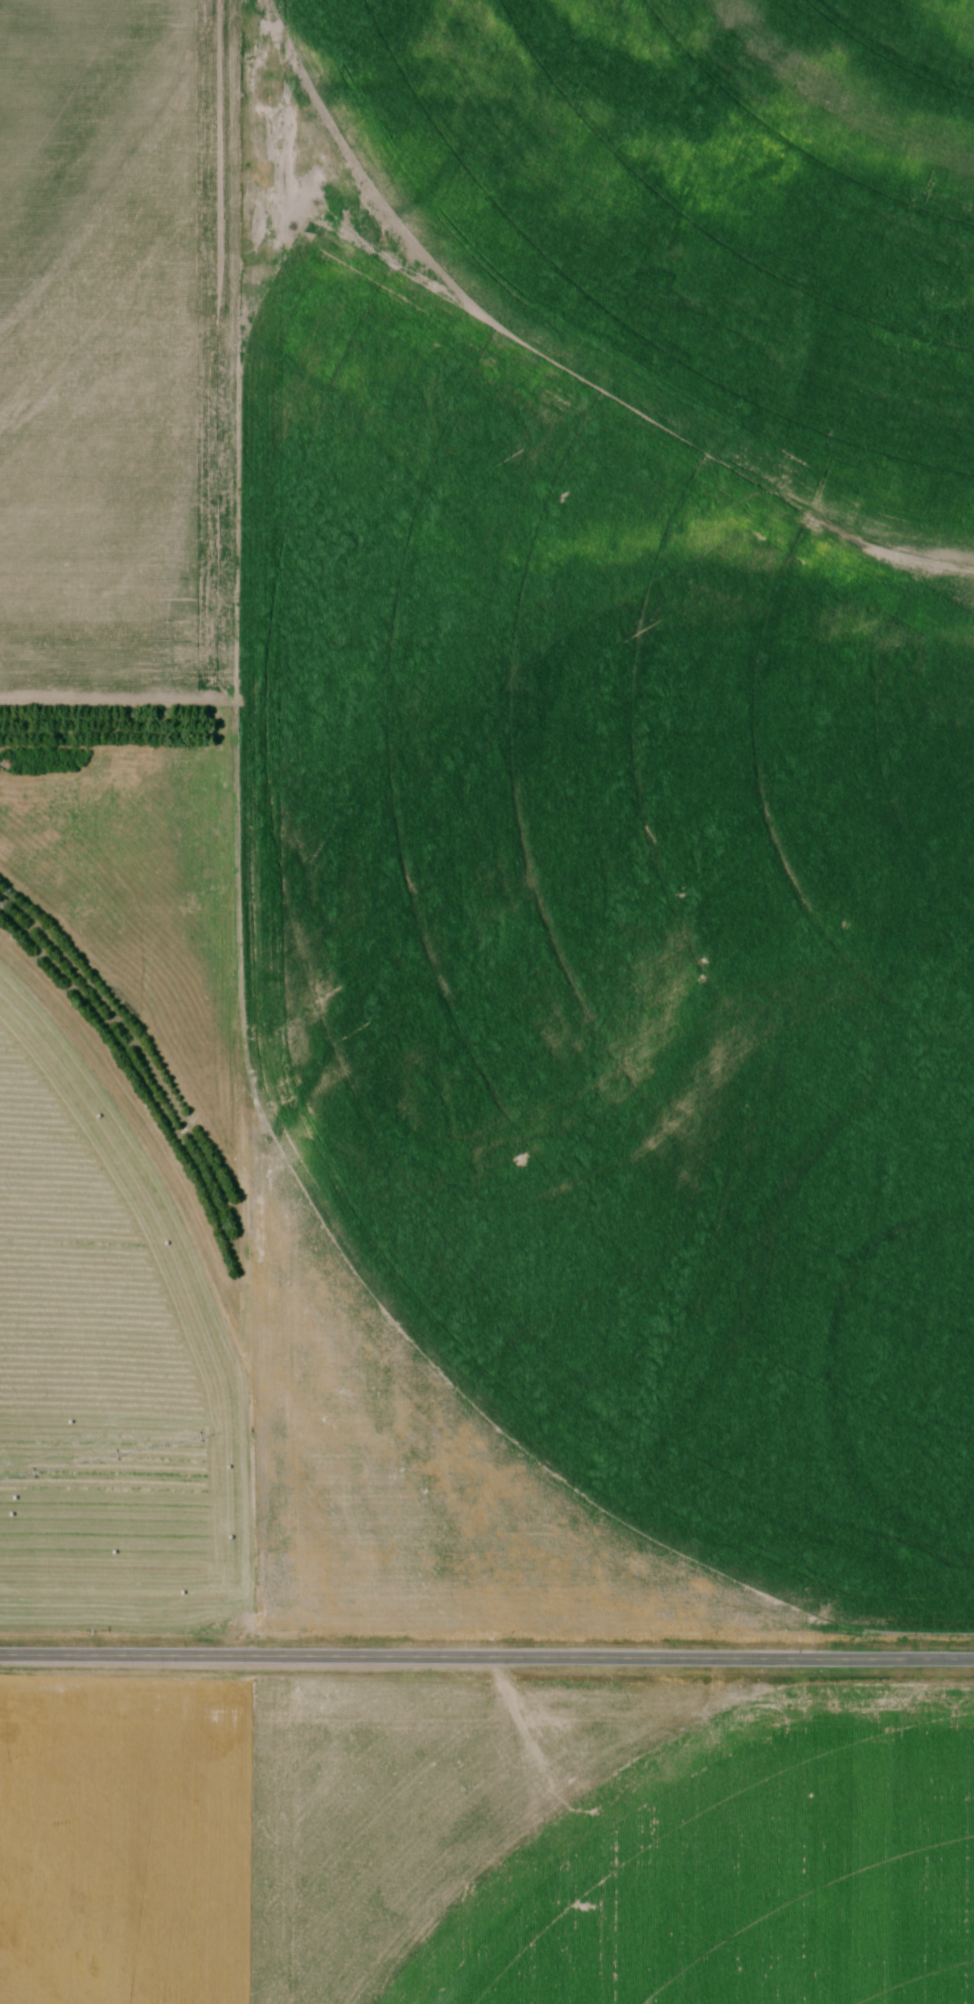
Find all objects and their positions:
road: (486, 1659)

